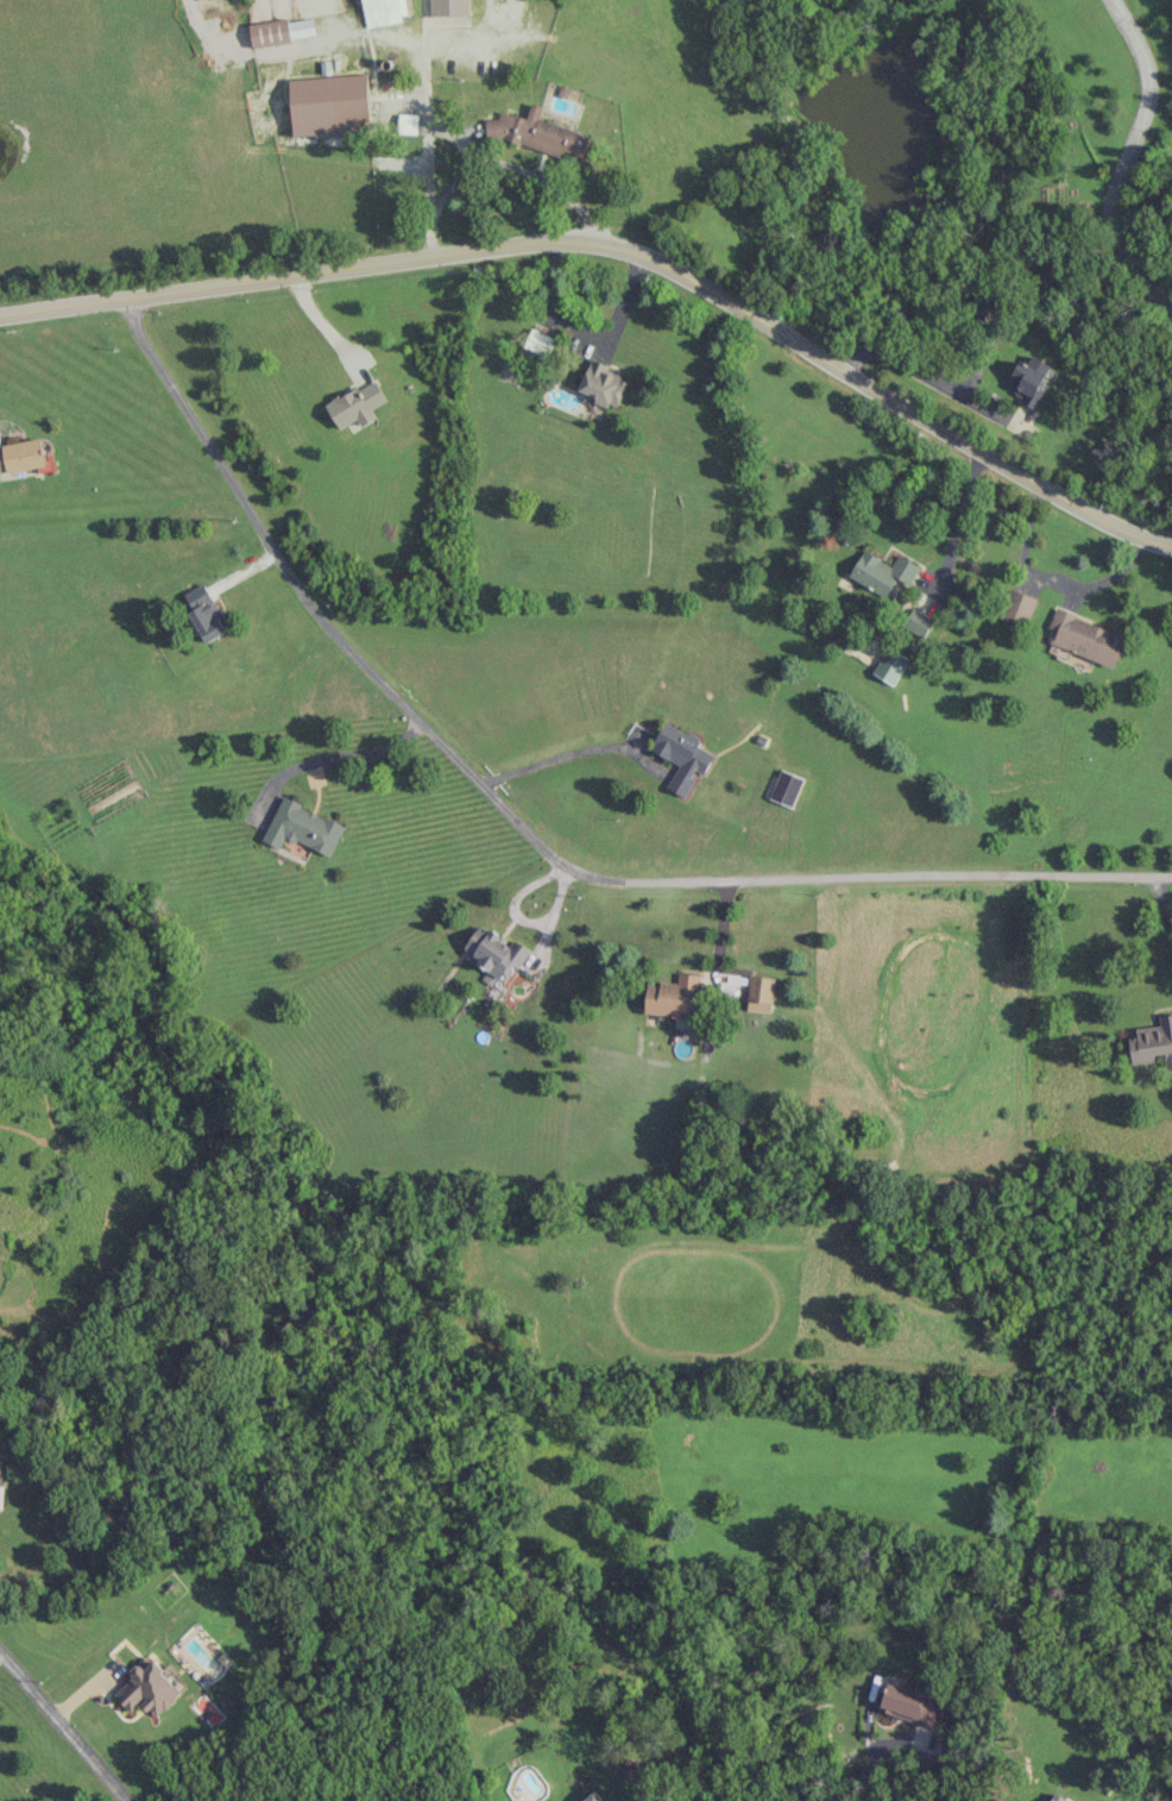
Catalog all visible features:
building: (448, 7)
building: (384, 11)
building: (283, 31)
building: (328, 105)
road: (424, 107)
building: (537, 133)
road: (1124, 158)
road: (517, 168)
road: (429, 236)
road: (620, 249)
road: (324, 330)
building: (540, 343)
road: (930, 368)
building: (1031, 381)
building: (604, 384)
building: (357, 404)
building: (20, 456)
road: (960, 523)
building: (883, 572)
road: (1051, 577)
building: (1017, 607)
building: (206, 614)
building: (919, 623)
building: (1085, 638)
building: (891, 665)
road: (569, 753)
building: (682, 755)
road: (336, 757)
building: (786, 787)
road: (524, 827)
building: (303, 828)
road: (1161, 893)
building: (494, 954)
building: (760, 989)
building: (675, 999)
building: (1153, 1042)
building: (1, 1495)
building: (150, 1688)
building: (910, 1703)
road: (63, 1727)
road: (872, 1756)
building: (593, 1797)
building: (1054, 1799)

